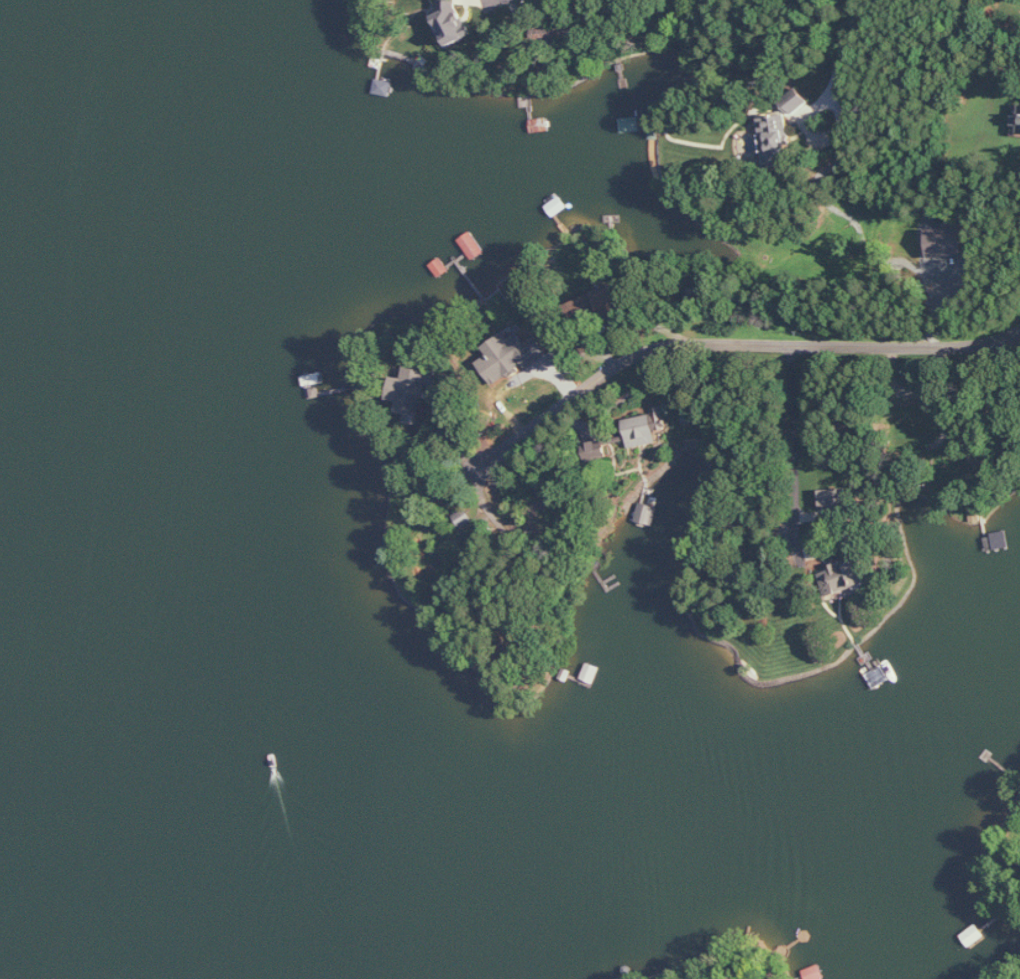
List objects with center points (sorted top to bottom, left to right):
building: (454, 22)
road: (839, 58)
building: (1018, 124)
building: (775, 142)
building: (945, 242)
building: (519, 291)
building: (697, 295)
building: (596, 305)
road: (730, 348)
building: (512, 355)
building: (415, 390)
road: (618, 402)
building: (647, 427)
road: (797, 431)
building: (596, 453)
building: (835, 498)
building: (847, 576)

